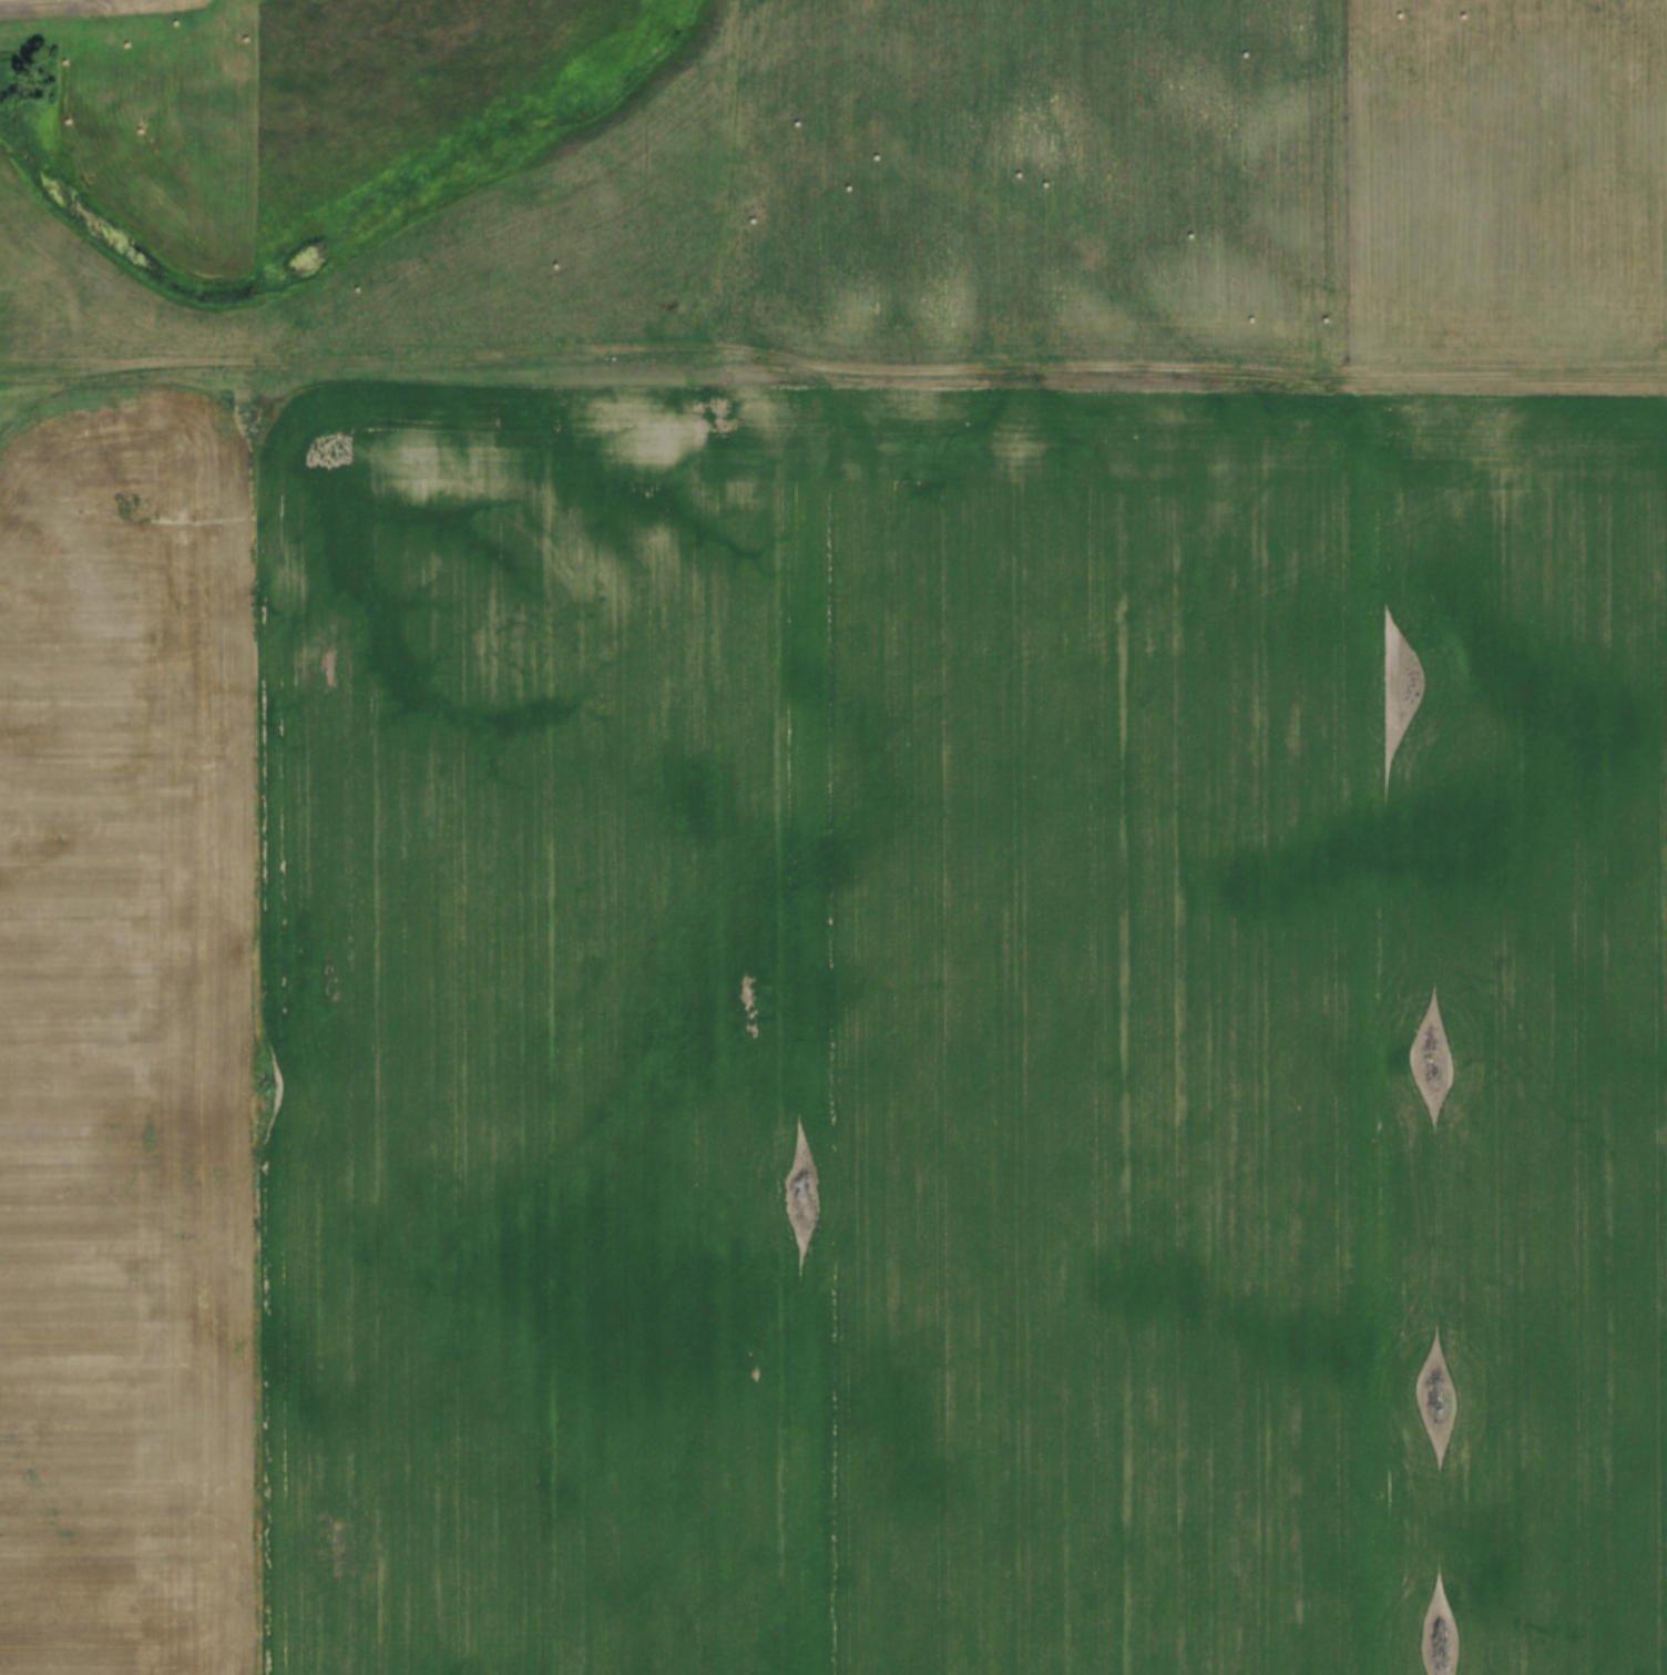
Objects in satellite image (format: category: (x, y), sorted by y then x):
road: (831, 370)

